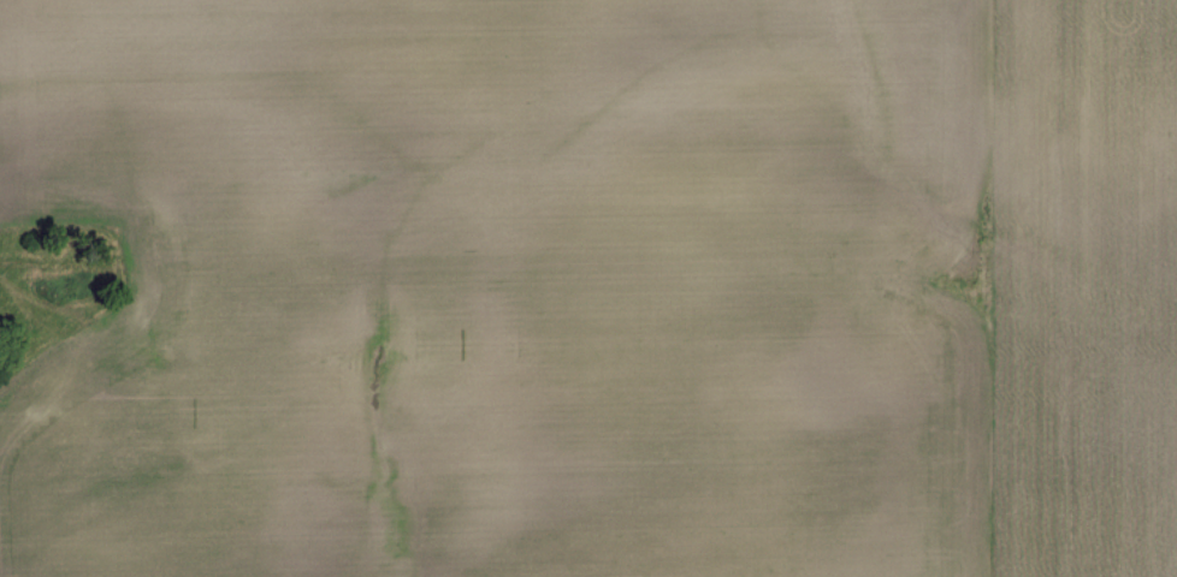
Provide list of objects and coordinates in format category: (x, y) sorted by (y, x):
crop: (601, 287)

